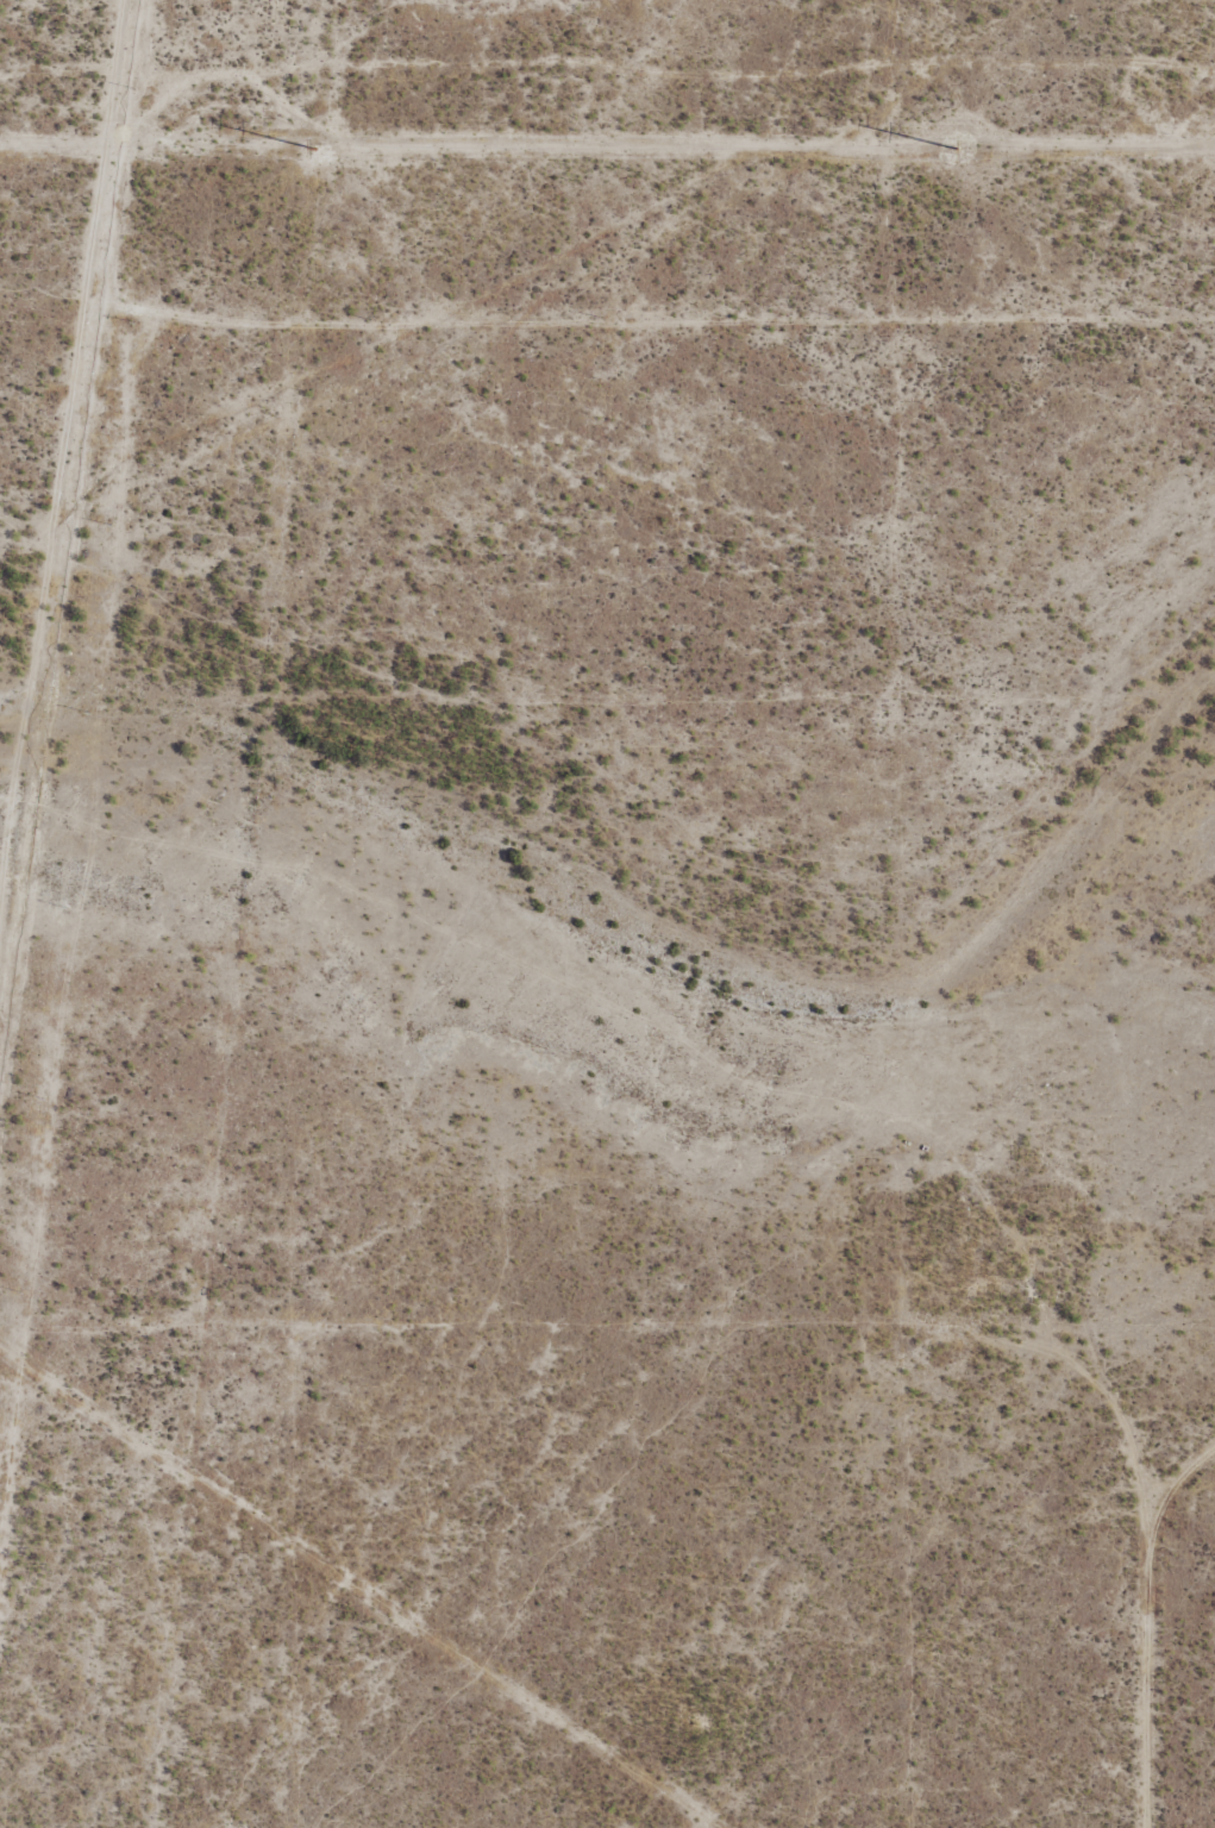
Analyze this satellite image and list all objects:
road: (1163, 1647)

